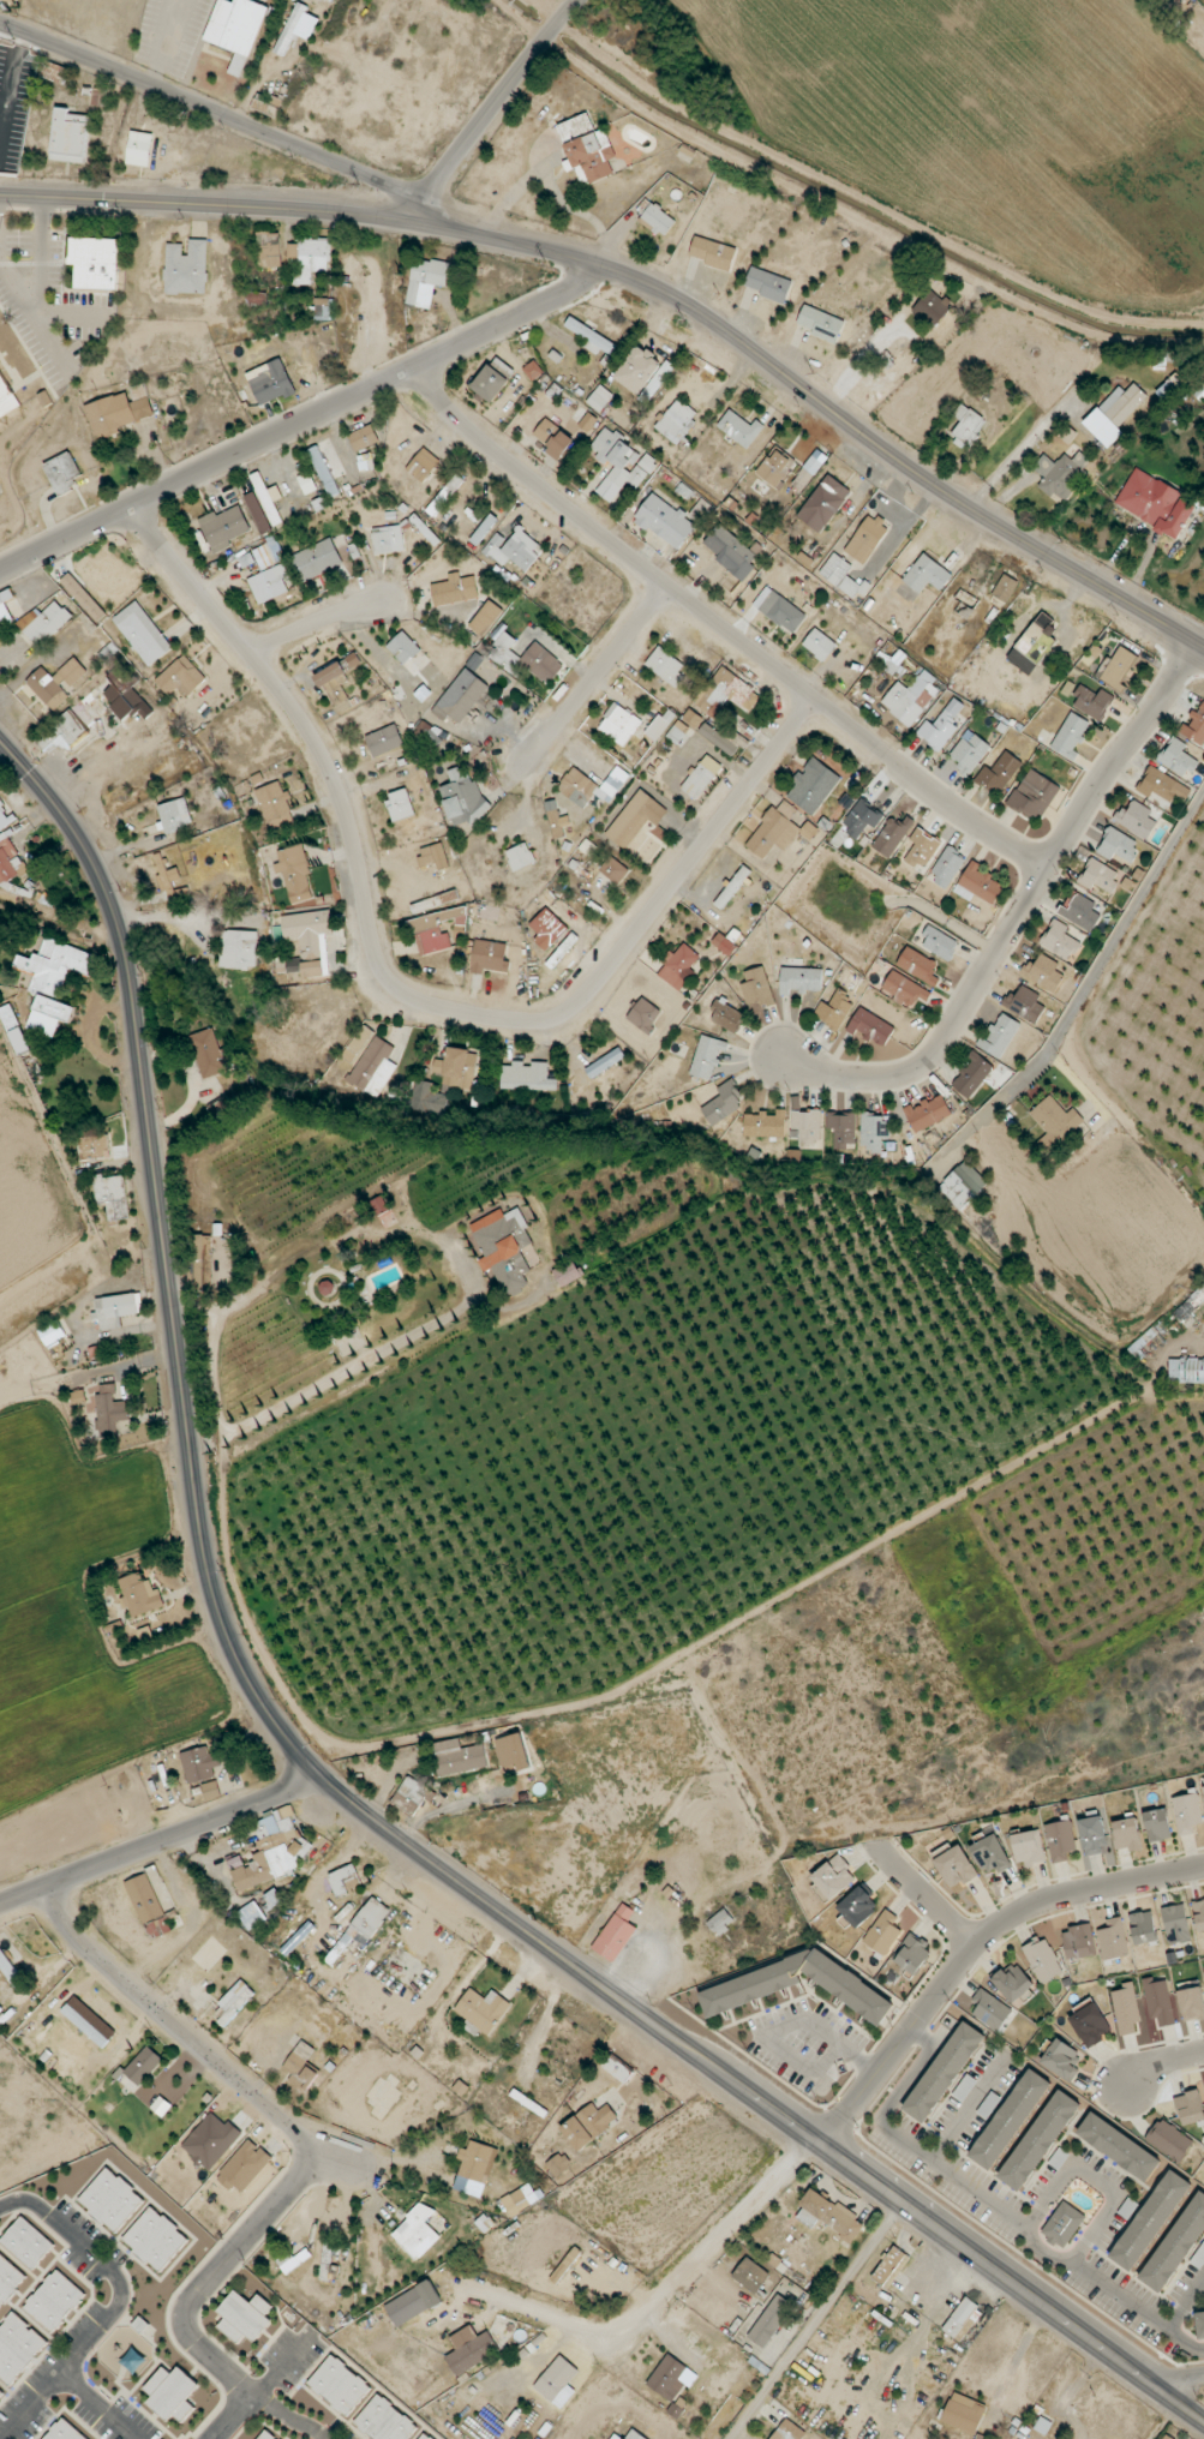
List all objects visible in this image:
road: (574, 6)
building: (236, 29)
building: (292, 29)
building: (55, 72)
road: (214, 112)
road: (486, 115)
building: (70, 137)
building: (139, 149)
building: (587, 149)
road: (204, 204)
building: (658, 220)
road: (508, 241)
building: (269, 248)
building: (293, 251)
building: (713, 253)
building: (312, 259)
building: (95, 262)
building: (186, 268)
building: (426, 281)
building: (768, 284)
building: (257, 299)
building: (932, 307)
building: (324, 308)
building: (820, 323)
building: (593, 338)
building: (533, 371)
building: (493, 379)
building: (270, 382)
building: (875, 391)
building: (599, 398)
building: (5, 401)
building: (1124, 403)
building: (110, 414)
road: (303, 418)
building: (588, 421)
building: (676, 421)
building: (968, 426)
building: (1102, 427)
building: (739, 429)
building: (364, 438)
building: (553, 438)
road: (900, 461)
building: (423, 465)
building: (621, 465)
building: (775, 467)
building: (323, 471)
building: (62, 473)
building: (1061, 474)
building: (803, 477)
building: (307, 483)
building: (445, 495)
building: (1146, 496)
building: (268, 499)
building: (823, 503)
building: (258, 513)
building: (1176, 520)
building: (665, 521)
building: (223, 528)
building: (484, 529)
building: (388, 539)
building: (867, 539)
building: (514, 550)
building: (731, 551)
building: (266, 556)
building: (318, 559)
building: (927, 574)
building: (843, 577)
building: (269, 583)
building: (1005, 588)
building: (455, 589)
building: (83, 598)
building: (783, 612)
building: (486, 618)
building: (44, 622)
road: (311, 623)
road: (721, 627)
building: (142, 634)
building: (819, 645)
building: (1034, 645)
building: (403, 648)
building: (525, 659)
building: (894, 661)
building: (665, 666)
building: (1116, 667)
building: (181, 677)
road: (593, 677)
building: (336, 679)
building: (56, 682)
building: (120, 687)
building: (730, 691)
building: (461, 697)
building: (911, 697)
building: (1091, 701)
building: (693, 718)
building: (619, 724)
building: (68, 726)
building: (1194, 726)
building: (658, 727)
building: (938, 731)
building: (679, 732)
building: (1071, 735)
building: (718, 739)
building: (384, 741)
building: (970, 751)
building: (1176, 757)
building: (999, 773)
building: (701, 777)
building: (592, 786)
building: (811, 786)
building: (1163, 787)
building: (1035, 795)
building: (463, 798)
building: (846, 802)
building: (401, 804)
building: (275, 807)
building: (175, 815)
building: (4, 816)
building: (635, 817)
building: (862, 819)
building: (1136, 819)
building: (557, 821)
building: (774, 829)
building: (809, 831)
building: (892, 835)
building: (1118, 845)
building: (922, 849)
building: (597, 853)
building: (433, 856)
building: (520, 857)
building: (10, 861)
building: (947, 868)
building: (615, 870)
building: (166, 873)
building: (295, 874)
building: (1100, 876)
building: (978, 885)
building: (435, 901)
building: (1079, 911)
road: (1018, 913)
road: (1126, 923)
building: (547, 929)
building: (436, 930)
building: (307, 937)
building: (1060, 940)
building: (939, 943)
building: (239, 949)
building: (490, 957)
building: (678, 966)
building: (918, 966)
building: (1043, 972)
building: (801, 979)
building: (54, 982)
building: (756, 988)
building: (905, 989)
road: (400, 990)
building: (1024, 1005)
building: (834, 1009)
building: (645, 1014)
building: (726, 1015)
building: (871, 1027)
building: (999, 1036)
building: (358, 1043)
building: (211, 1054)
building: (707, 1057)
building: (605, 1062)
building: (375, 1067)
building: (457, 1068)
building: (972, 1074)
building: (527, 1077)
building: (424, 1096)
building: (724, 1103)
building: (928, 1113)
building: (1056, 1119)
building: (766, 1123)
building: (807, 1126)
building: (843, 1128)
building: (875, 1132)
building: (95, 1146)
building: (963, 1185)
road: (1102, 1186)
building: (113, 1195)
building: (504, 1248)
building: (568, 1274)
building: (1190, 1307)
building: (118, 1308)
building: (52, 1332)
building: (1186, 1371)
building: (110, 1412)
building: (140, 1595)
building: (513, 1751)
building: (459, 1757)
building: (199, 1764)
road: (316, 1769)
building: (210, 1790)
building: (412, 1796)
building: (1187, 1812)
building: (1157, 1824)
building: (1127, 1834)
building: (1094, 1835)
road: (161, 1840)
building: (1060, 1840)
building: (1029, 1848)
building: (271, 1850)
building: (990, 1854)
building: (956, 1866)
building: (832, 1878)
building: (343, 1880)
road: (927, 1893)
building: (151, 1907)
building: (858, 1907)
building: (1199, 1914)
building: (252, 1916)
building: (721, 1922)
building: (1176, 1924)
building: (363, 1928)
building: (1143, 1928)
building: (883, 1932)
building: (616, 1934)
building: (1113, 1940)
building: (1079, 1942)
road: (974, 1947)
building: (912, 1953)
building: (1043, 1960)
building: (10, 1971)
building: (1012, 1982)
building: (748, 1988)
building: (1158, 2001)
building: (233, 2002)
building: (1192, 2003)
building: (1126, 2008)
building: (990, 2009)
building: (483, 2010)
building: (85, 2025)
road: (187, 2038)
building: (1061, 2060)
road: (1158, 2062)
building: (301, 2067)
building: (617, 2069)
building: (945, 2072)
building: (965, 2087)
building: (989, 2105)
building: (1190, 2108)
building: (1010, 2120)
building: (588, 2125)
building: (211, 2140)
building: (1040, 2140)
building: (1169, 2140)
building: (1119, 2147)
building: (558, 2164)
building: (244, 2167)
building: (474, 2168)
building: (521, 2199)
building: (112, 2200)
road: (988, 2200)
road: (7, 2203)
building: (1130, 2209)
building: (829, 2216)
building: (1151, 2221)
building: (1064, 2225)
building: (417, 2231)
building: (156, 2239)
building: (28, 2242)
building: (1176, 2246)
building: (1199, 2258)
building: (293, 2260)
building: (565, 2265)
building: (888, 2265)
building: (751, 2275)
road: (953, 2277)
building: (8, 2278)
road: (660, 2295)
building: (54, 2301)
road: (182, 2301)
road: (1185, 2302)
building: (413, 2303)
road: (109, 2313)
building: (244, 2317)
building: (771, 2320)
road: (815, 2320)
building: (963, 2320)
building: (1200, 2323)
road: (916, 2335)
building: (17, 2347)
building: (471, 2349)
road: (1016, 2361)
building: (671, 2378)
building: (558, 2381)
road: (1184, 2383)
building: (340, 2385)
road: (1070, 2390)
building: (0, 2391)
building: (172, 2393)
road: (97, 2405)
building: (487, 2408)
building: (964, 2413)
road: (229, 2416)
road: (1162, 2420)
building: (385, 2421)
building: (65, 2431)
building: (789, 2431)
building: (635, 2434)
building: (266, 2435)
building: (424, 2437)
building: (616, 2437)
building: (1166, 2438)

